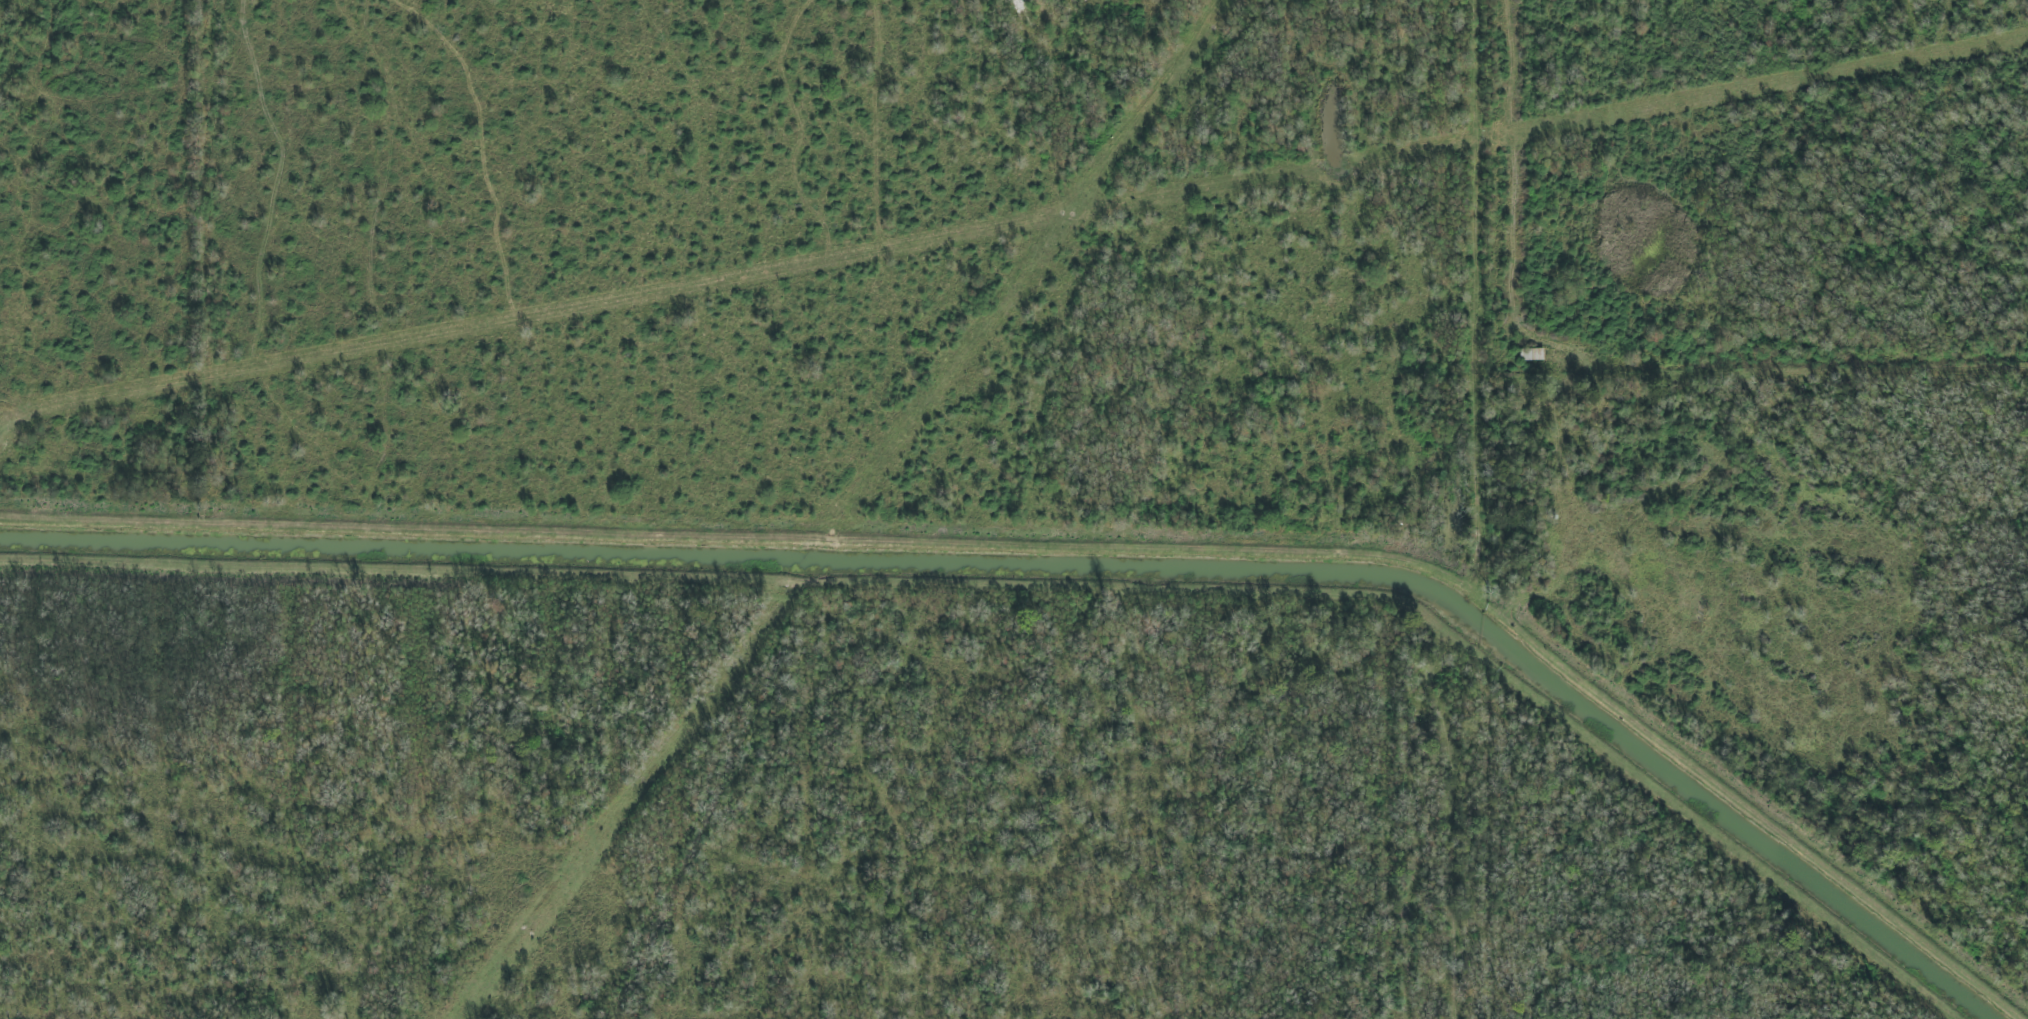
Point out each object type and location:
road: (1489, 215)
road: (1767, 406)

